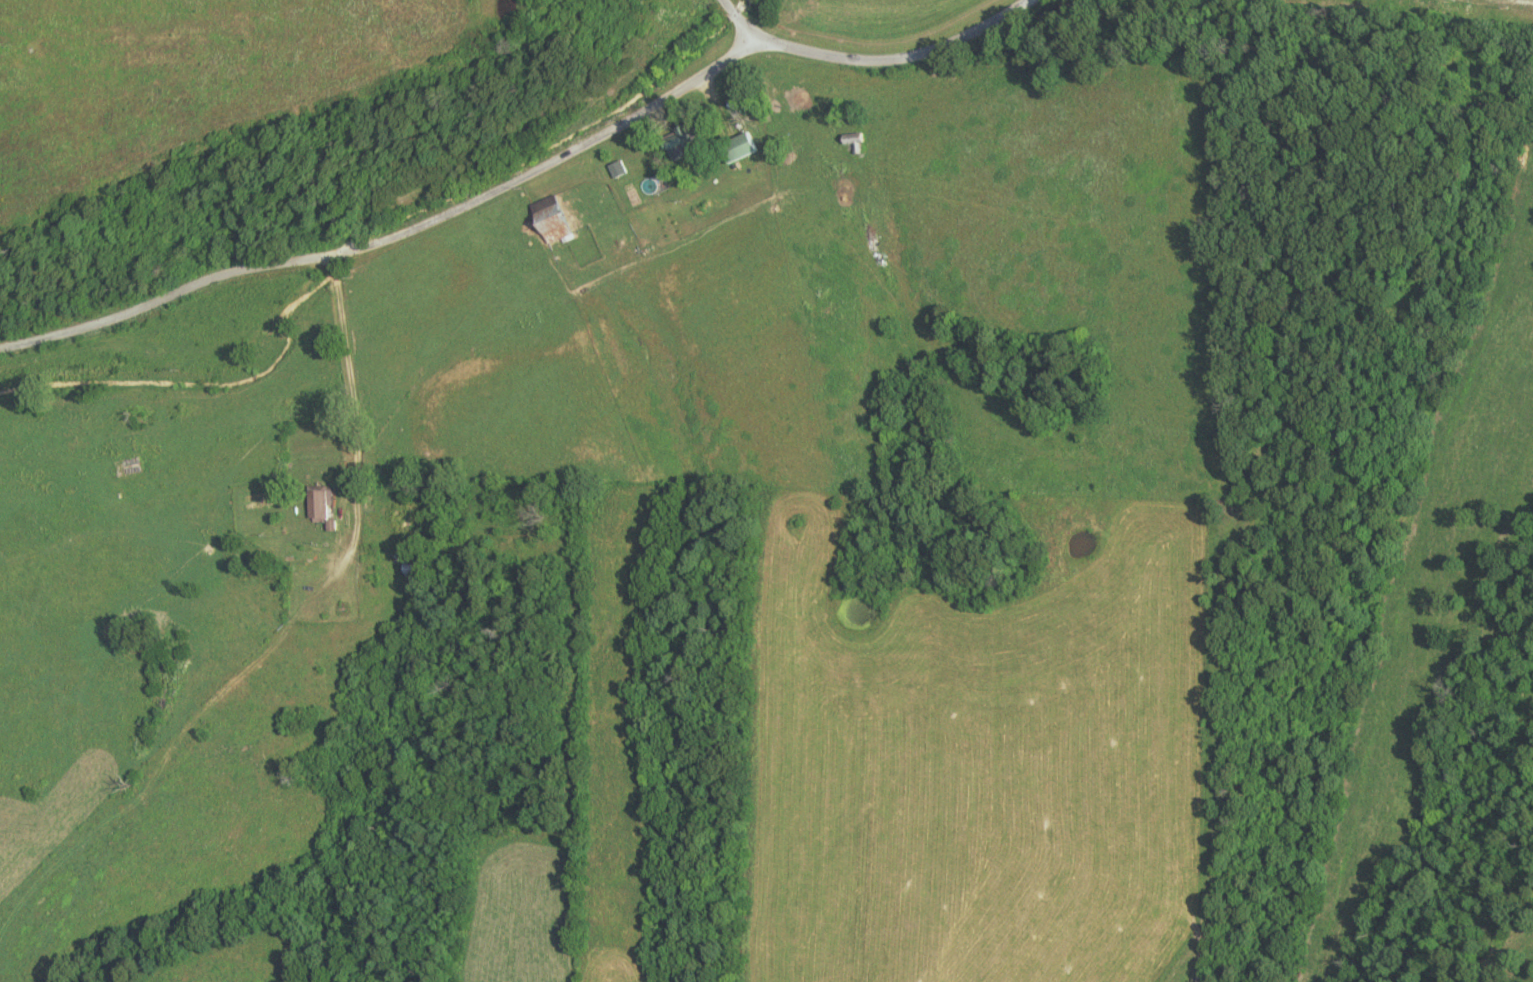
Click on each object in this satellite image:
road: (742, 20)
building: (677, 142)
building: (734, 147)
road: (520, 176)
building: (549, 220)
road: (345, 365)
building: (317, 502)

